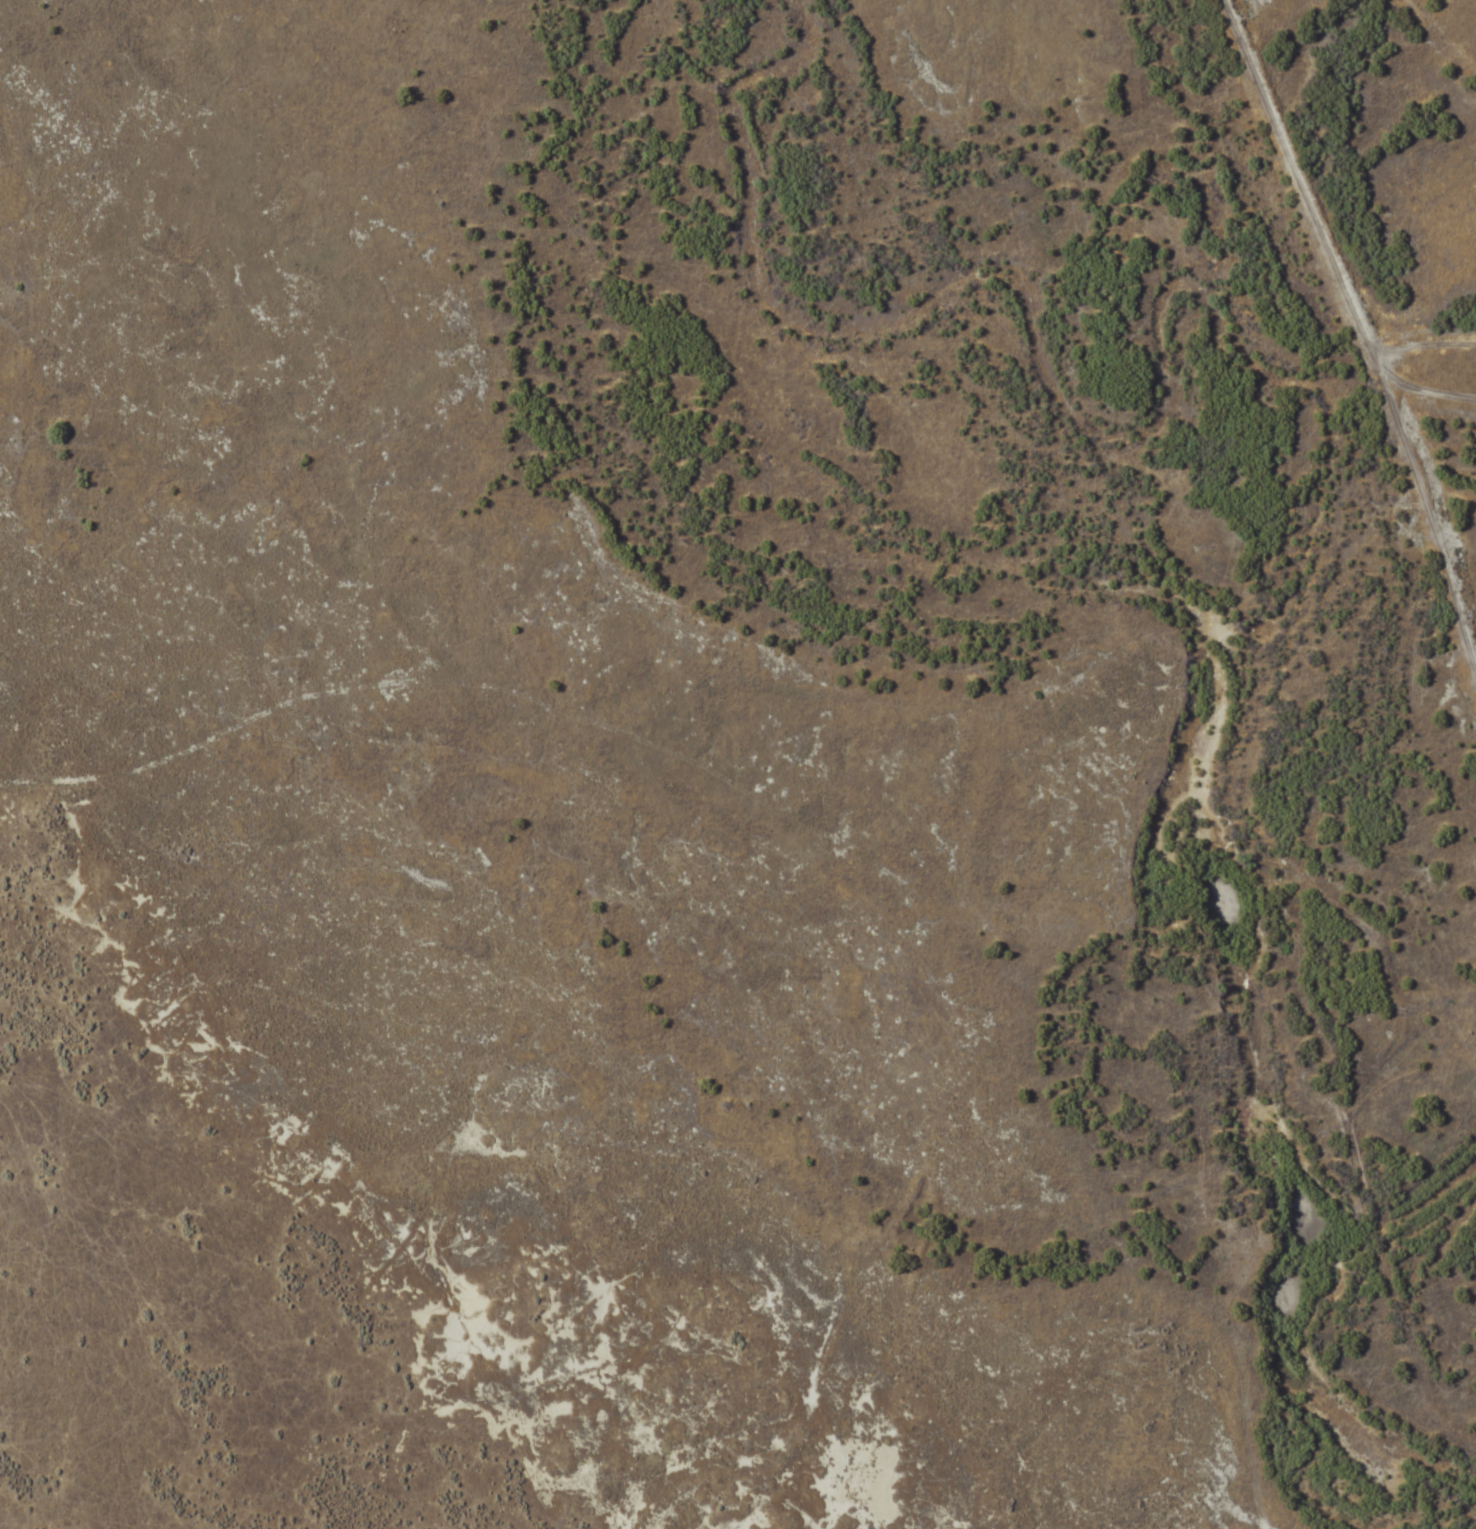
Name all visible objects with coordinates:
road: (1444, 90)

